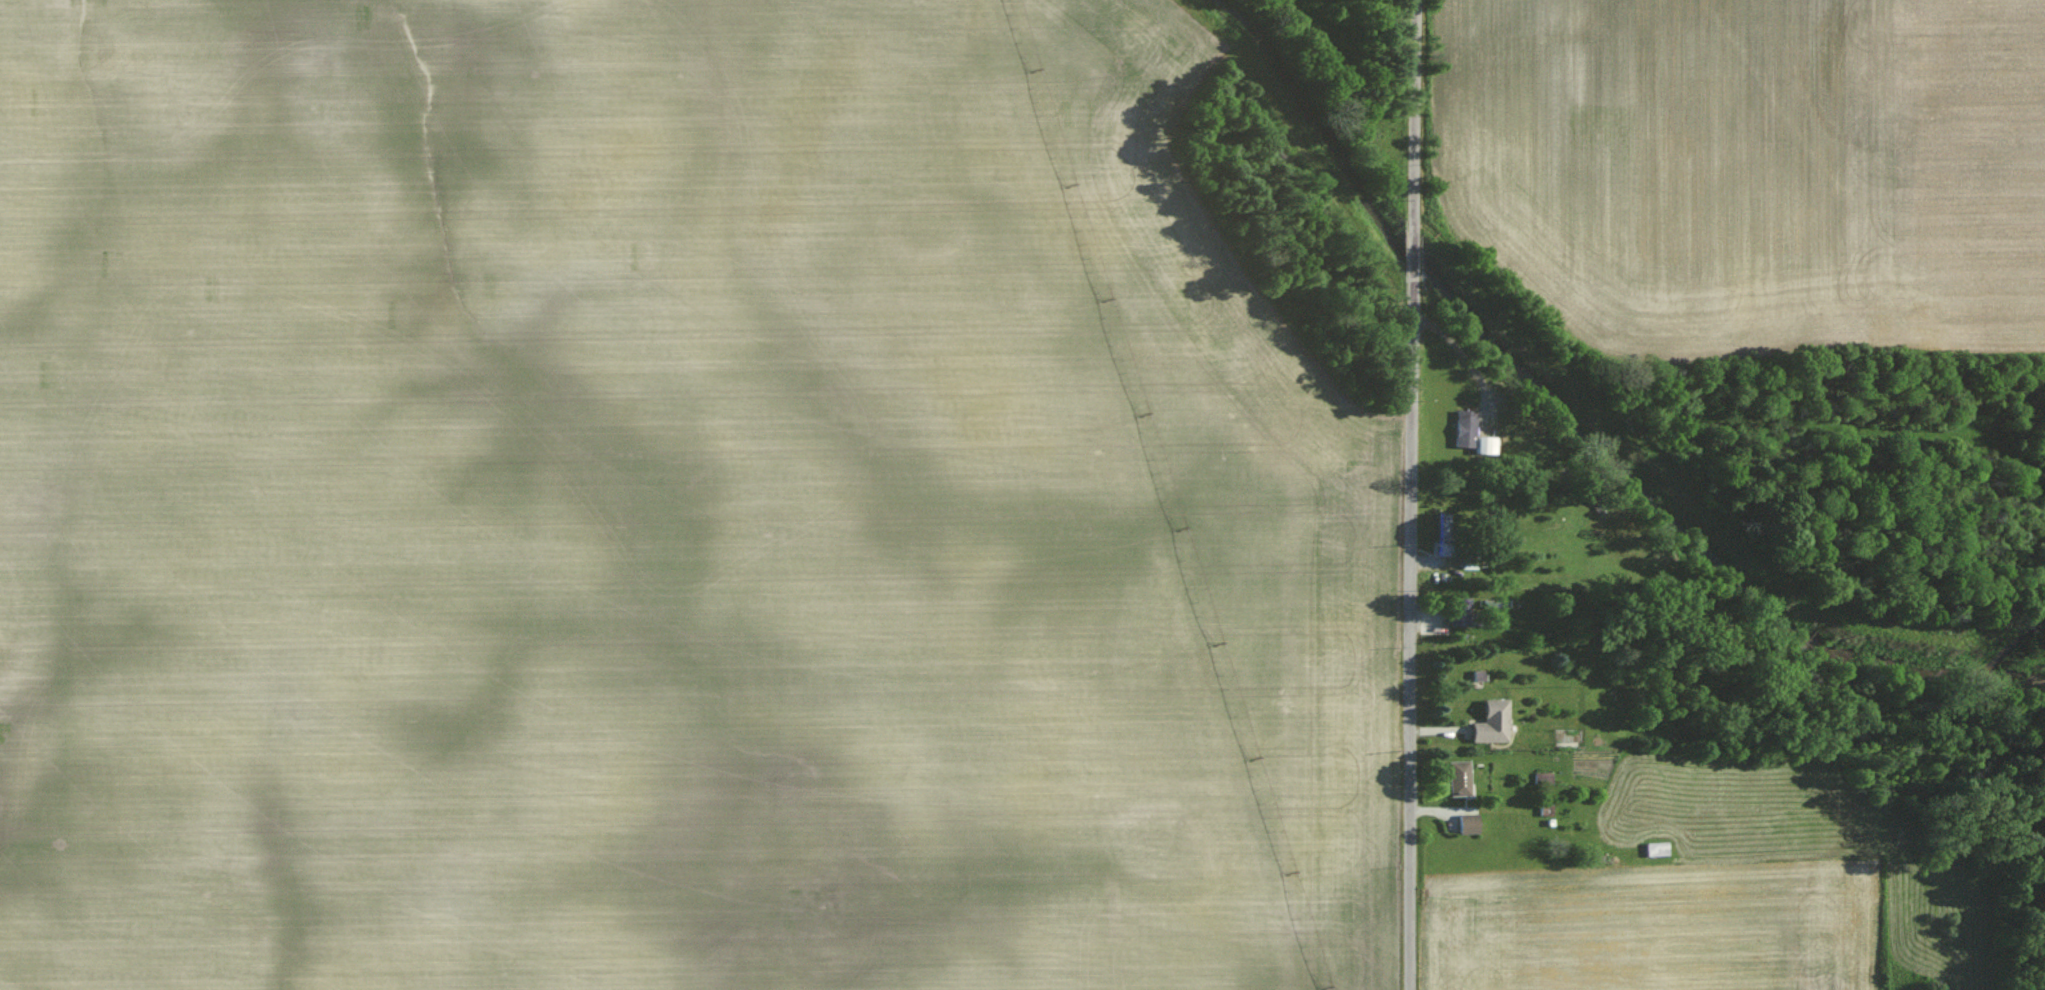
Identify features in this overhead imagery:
building: (1471, 434)
road: (1407, 494)
building: (1457, 607)
building: (1487, 720)
building: (1456, 777)
building: (1464, 823)

